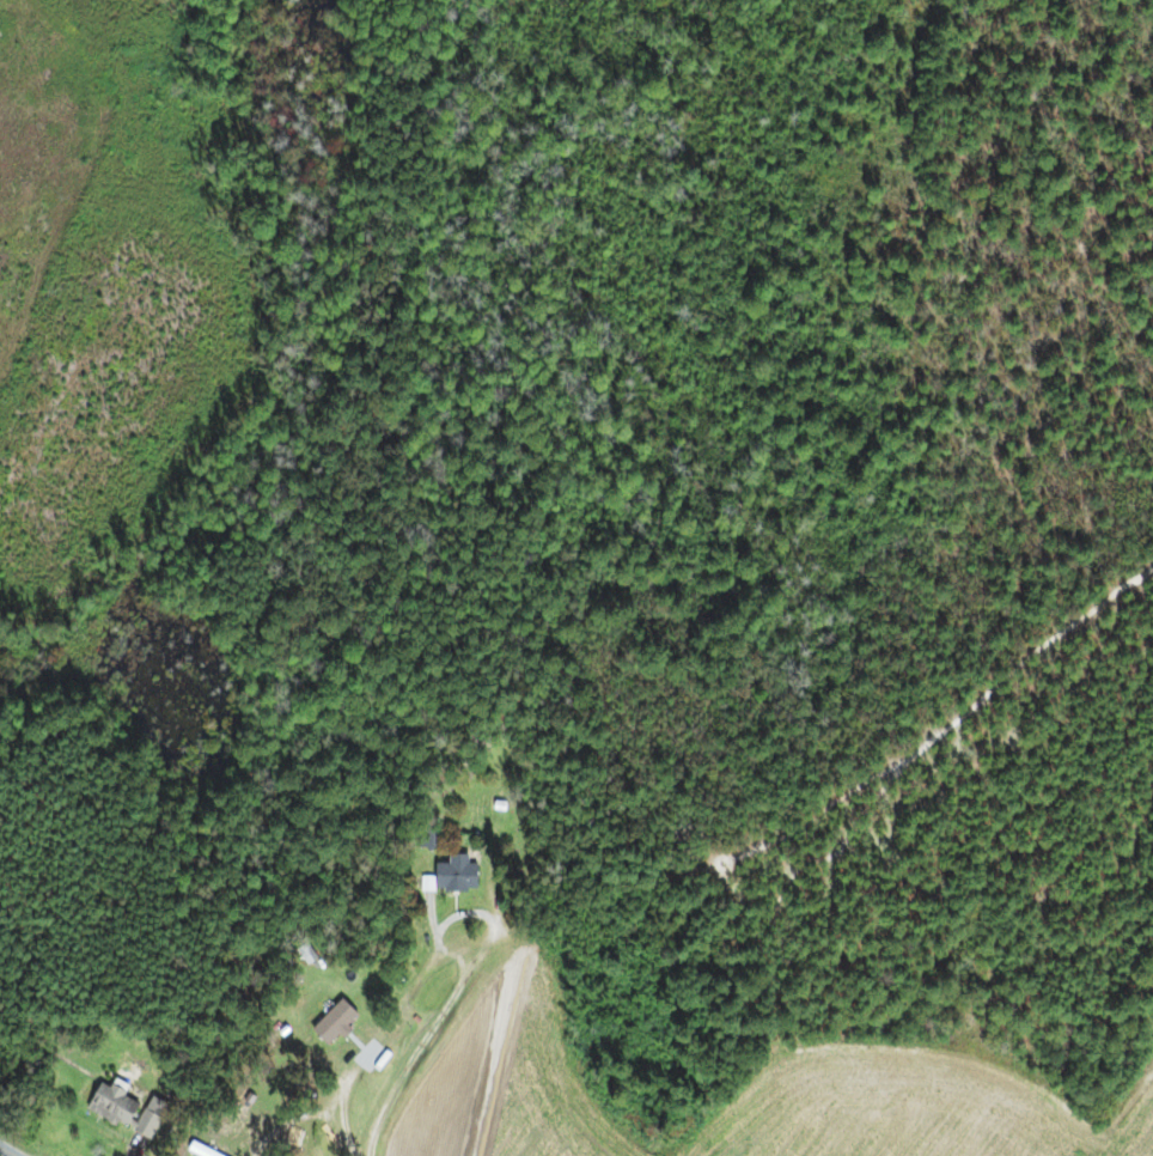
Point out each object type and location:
building: (427, 838)
building: (447, 876)
road: (468, 909)
building: (330, 1024)
building: (108, 1106)
building: (146, 1119)
road: (7, 1151)

